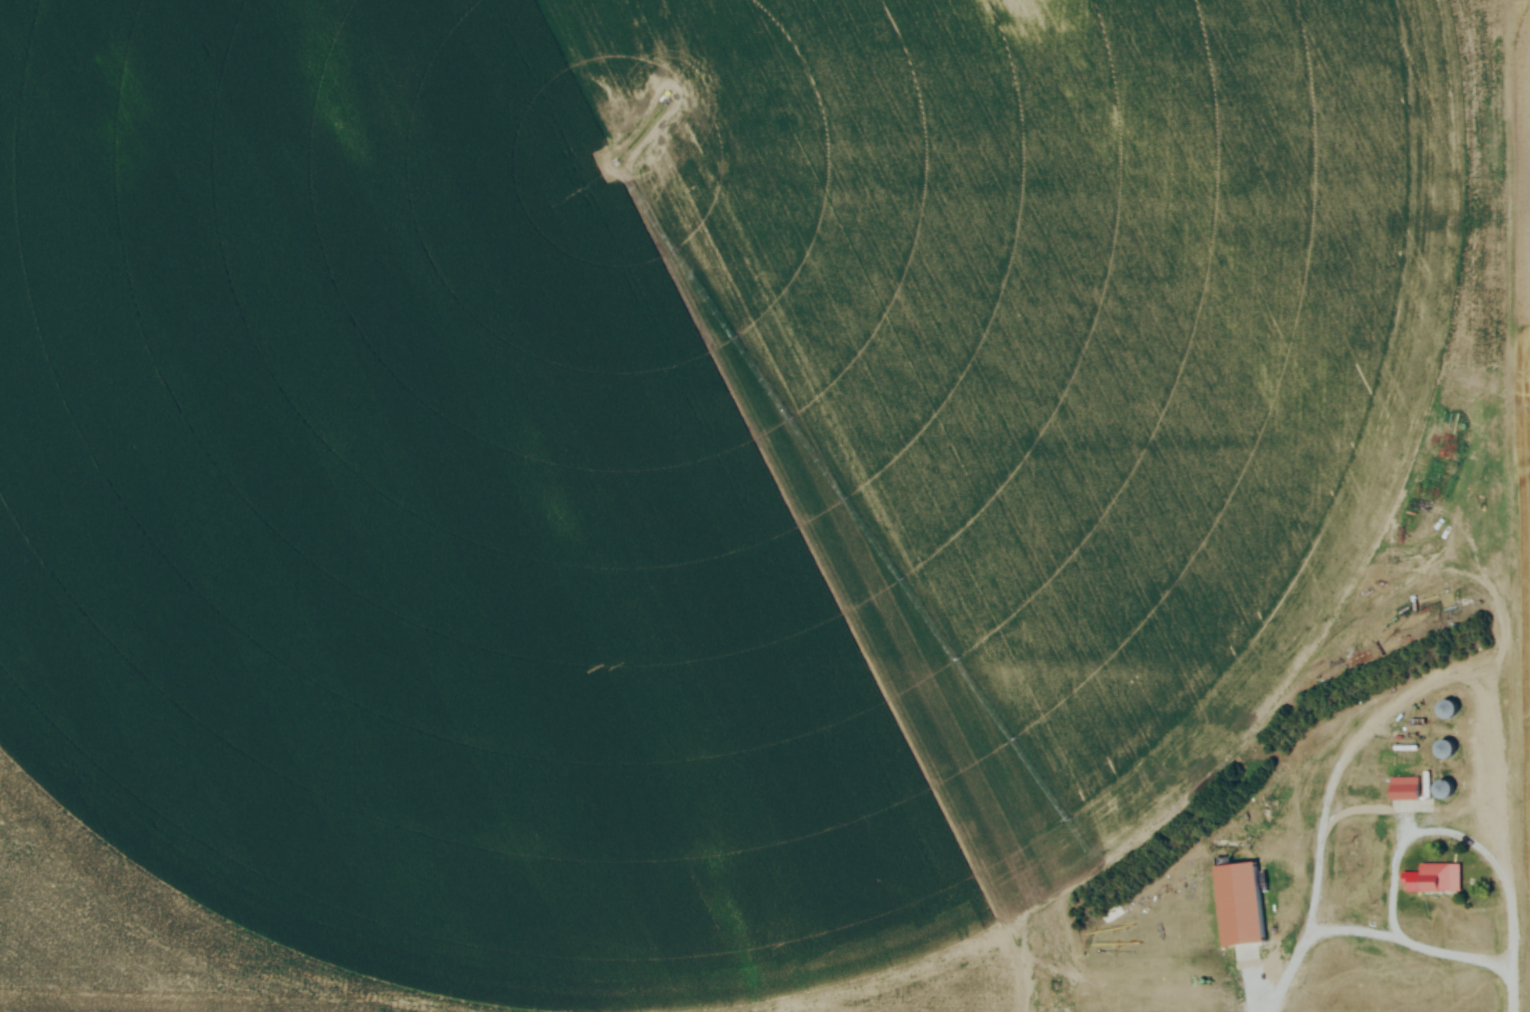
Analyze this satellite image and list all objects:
building: (1445, 709)
building: (1443, 749)
building: (1404, 788)
building: (1438, 877)
road: (1397, 884)
building: (1239, 904)
road: (1513, 945)

